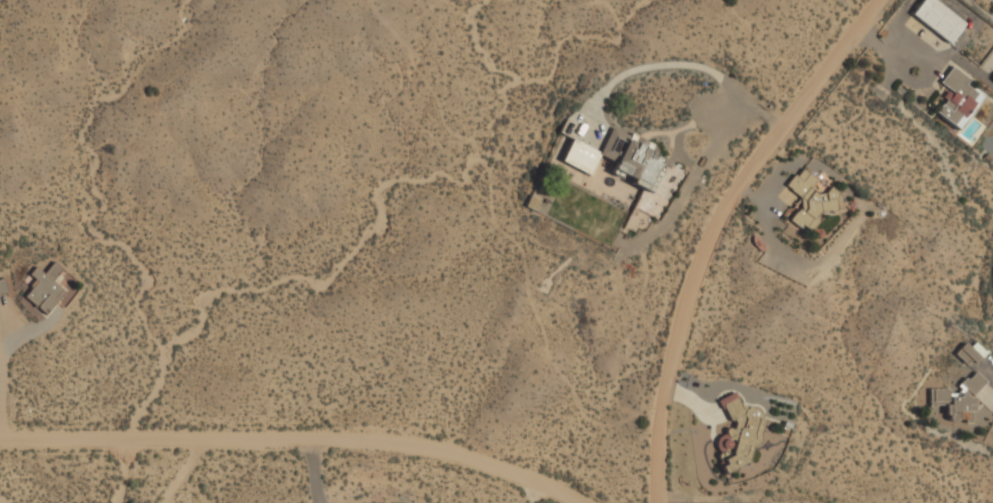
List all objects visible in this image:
building: (939, 19)
building: (958, 98)
building: (625, 165)
building: (811, 201)
road: (711, 228)
building: (3, 288)
building: (45, 290)
building: (958, 401)
building: (739, 435)
road: (298, 441)

